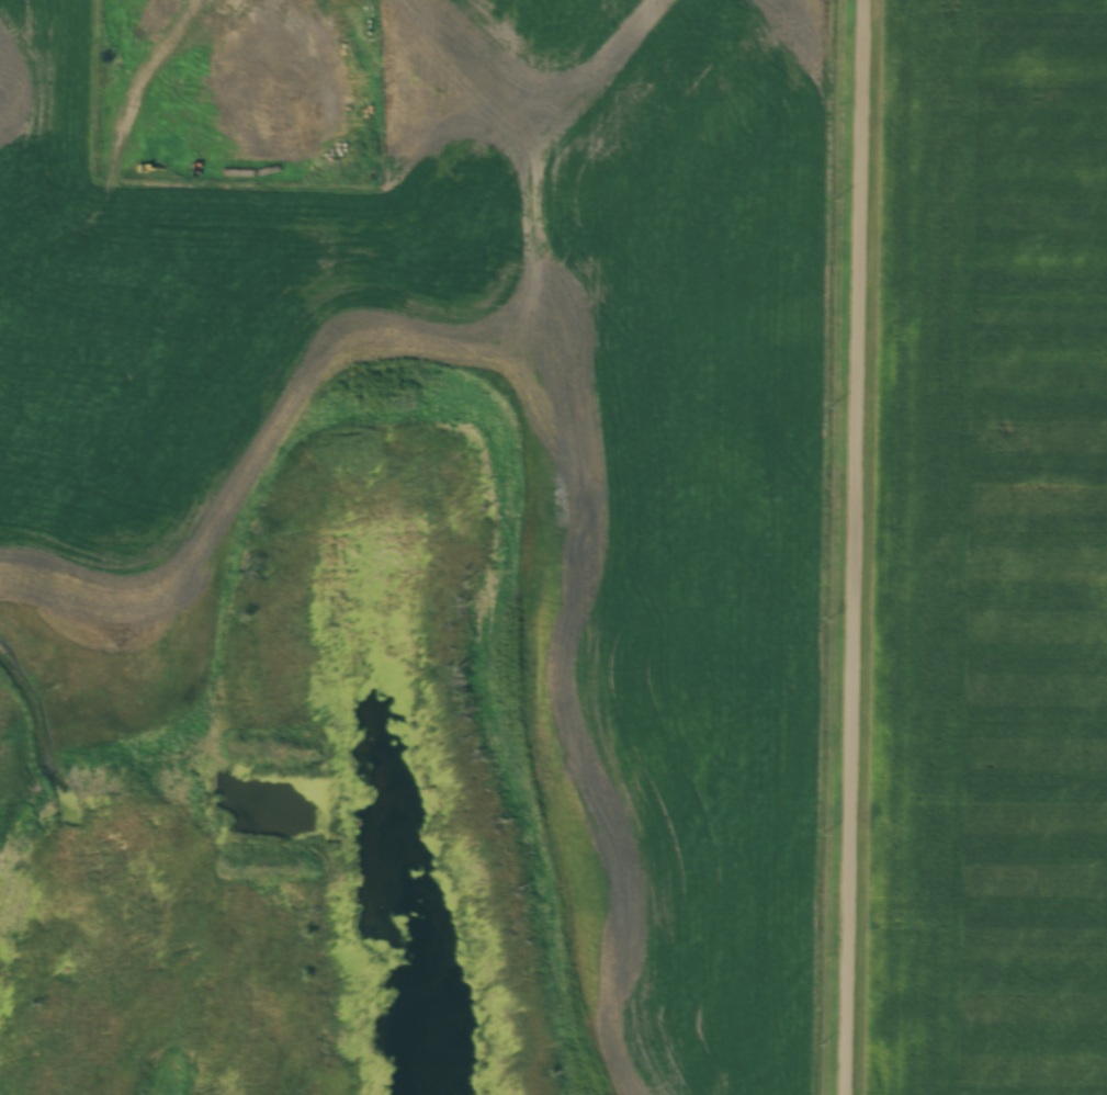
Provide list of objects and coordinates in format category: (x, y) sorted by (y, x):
road: (854, 547)

